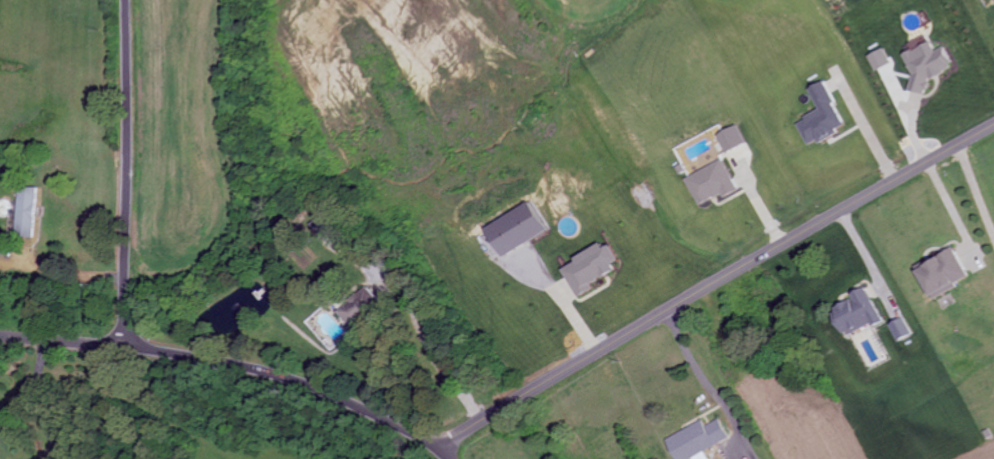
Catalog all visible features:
building: (877, 61)
building: (924, 66)
building: (820, 118)
building: (731, 140)
building: (713, 184)
building: (23, 213)
building: (514, 231)
building: (588, 270)
building: (942, 275)
road: (711, 280)
building: (360, 309)
building: (856, 315)
building: (900, 330)
road: (134, 335)
road: (65, 338)
building: (697, 441)

